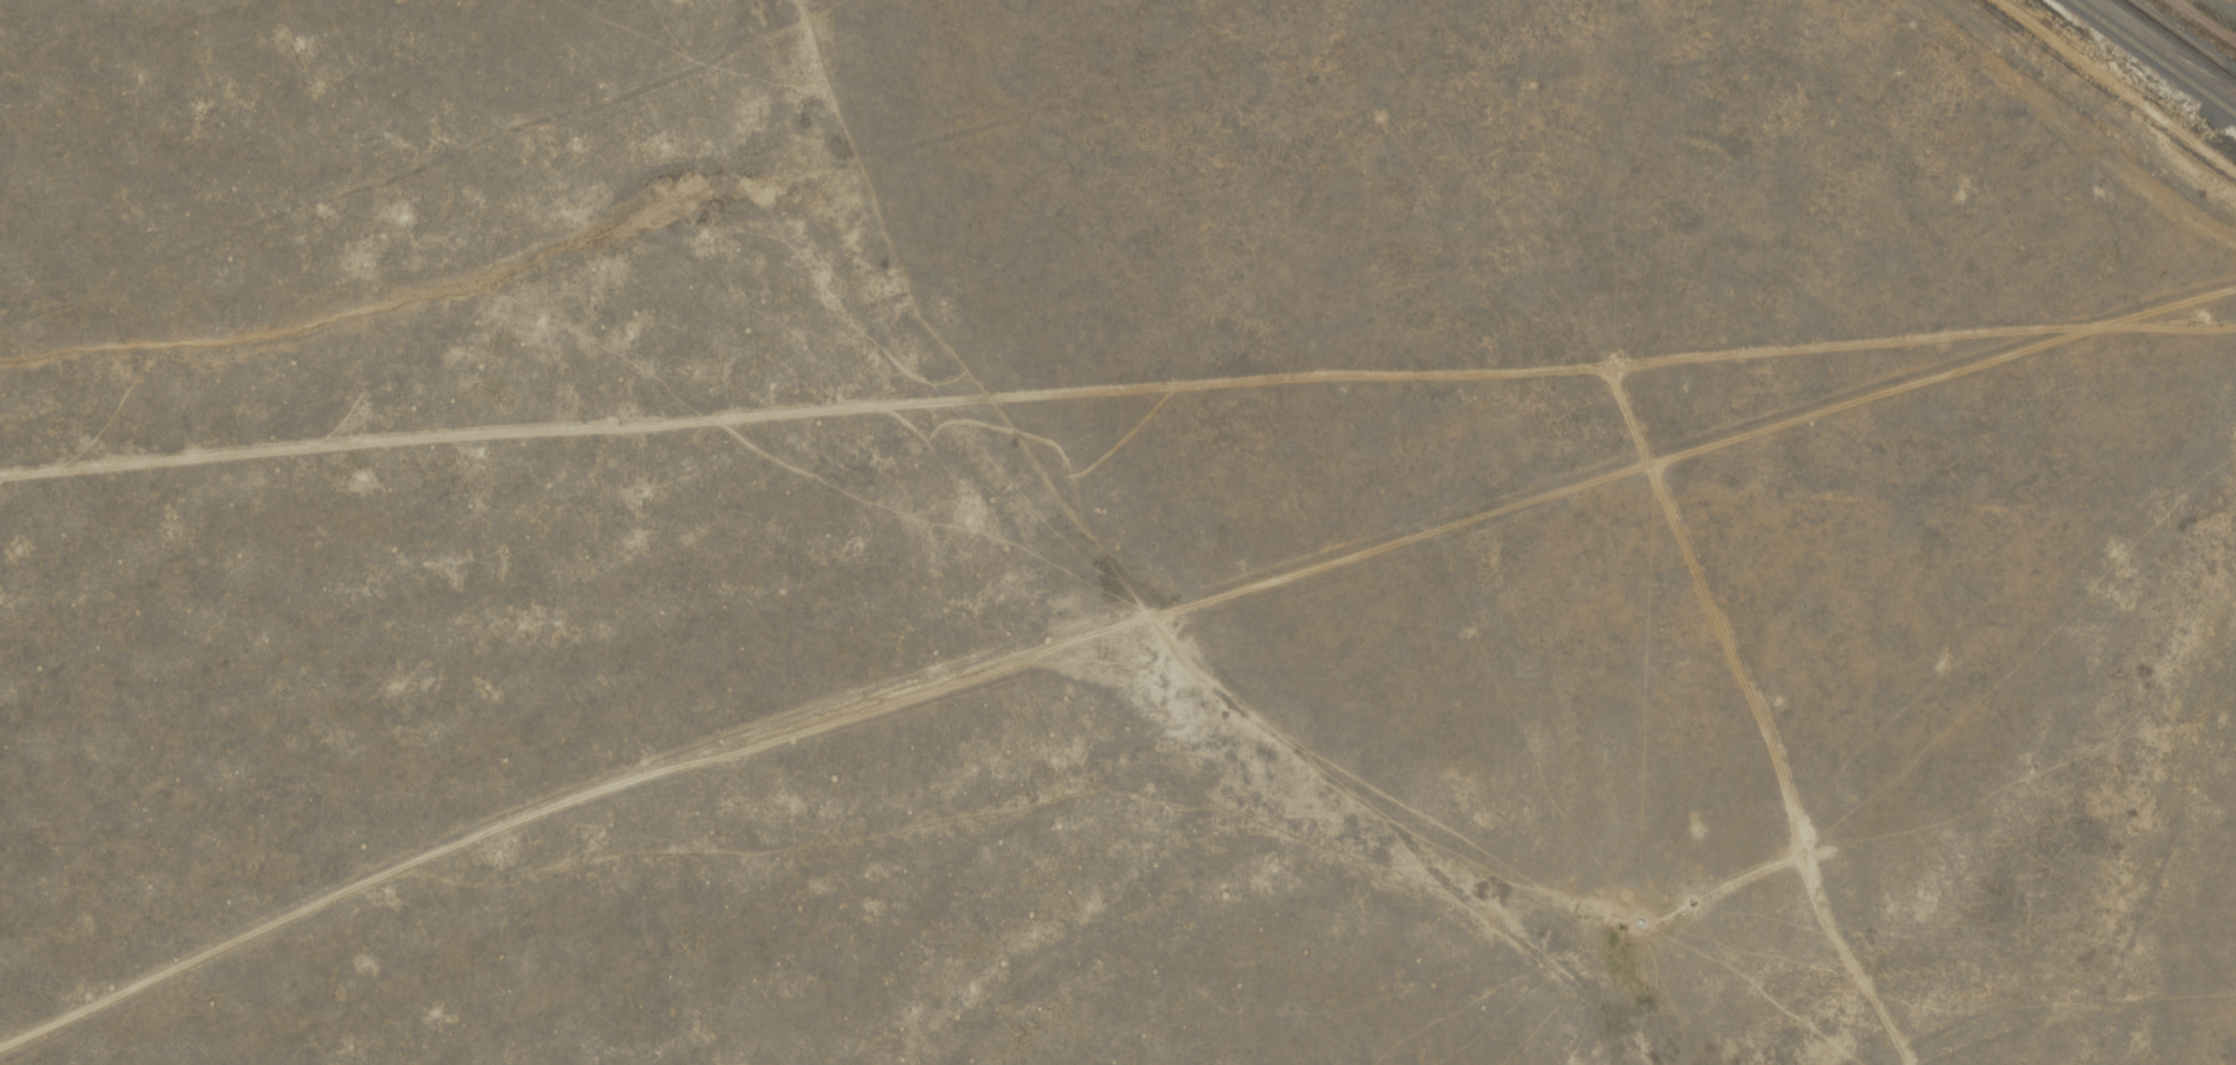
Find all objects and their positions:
railway: (2179, 40)
railway: (2152, 57)
road: (2058, 115)

